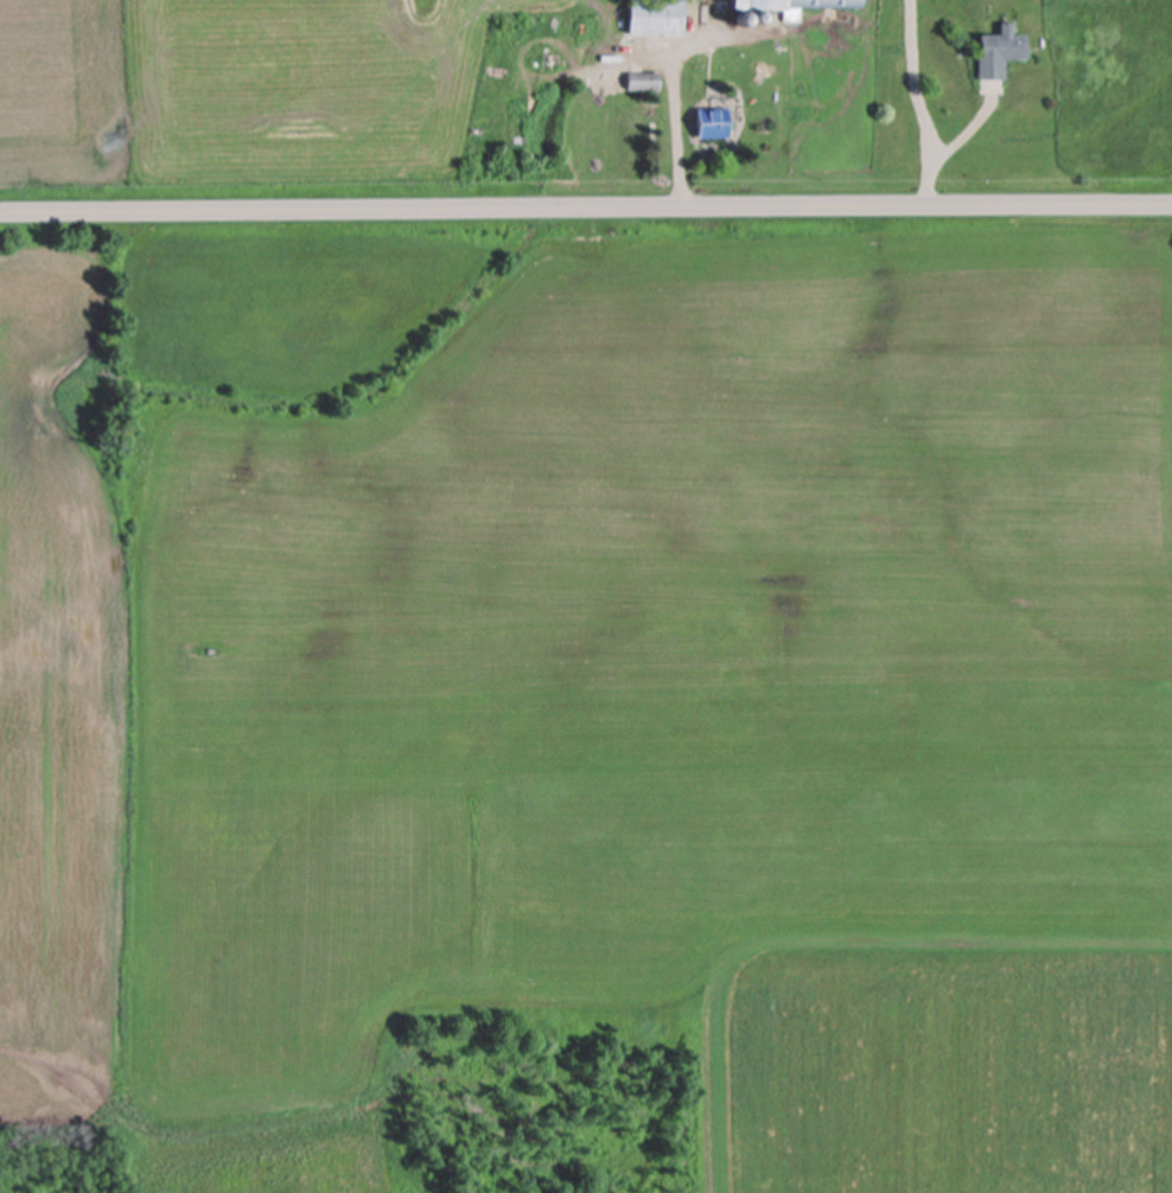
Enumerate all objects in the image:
building: (778, 6)
building: (651, 17)
building: (996, 52)
building: (641, 82)
road: (674, 89)
building: (707, 123)
road: (586, 225)

